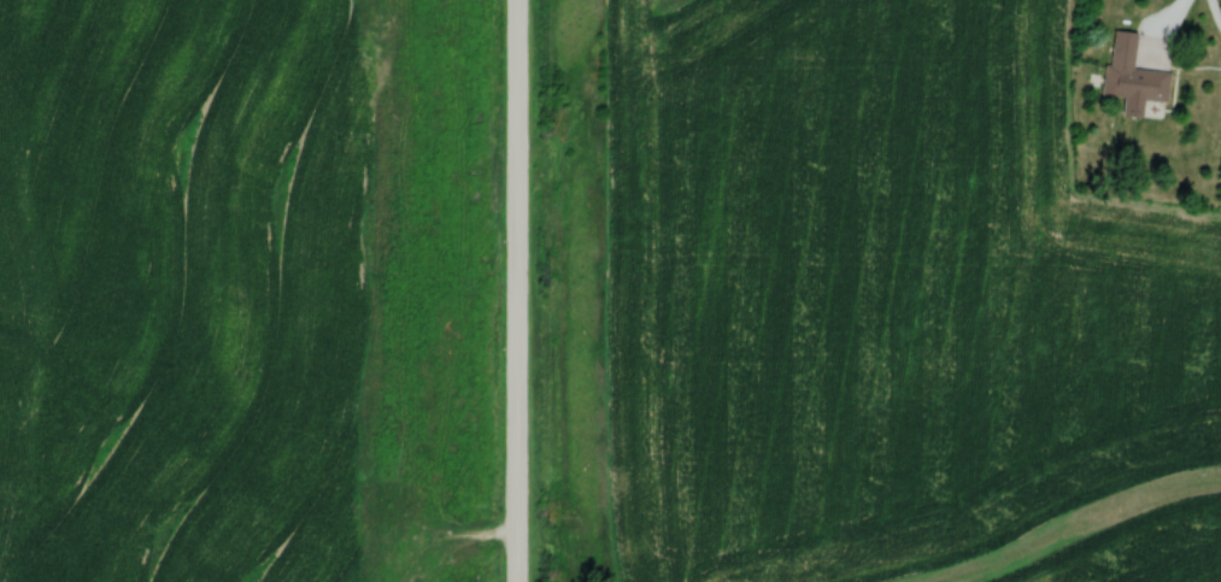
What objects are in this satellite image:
road: (1176, 6)
building: (1129, 74)
road: (513, 290)

